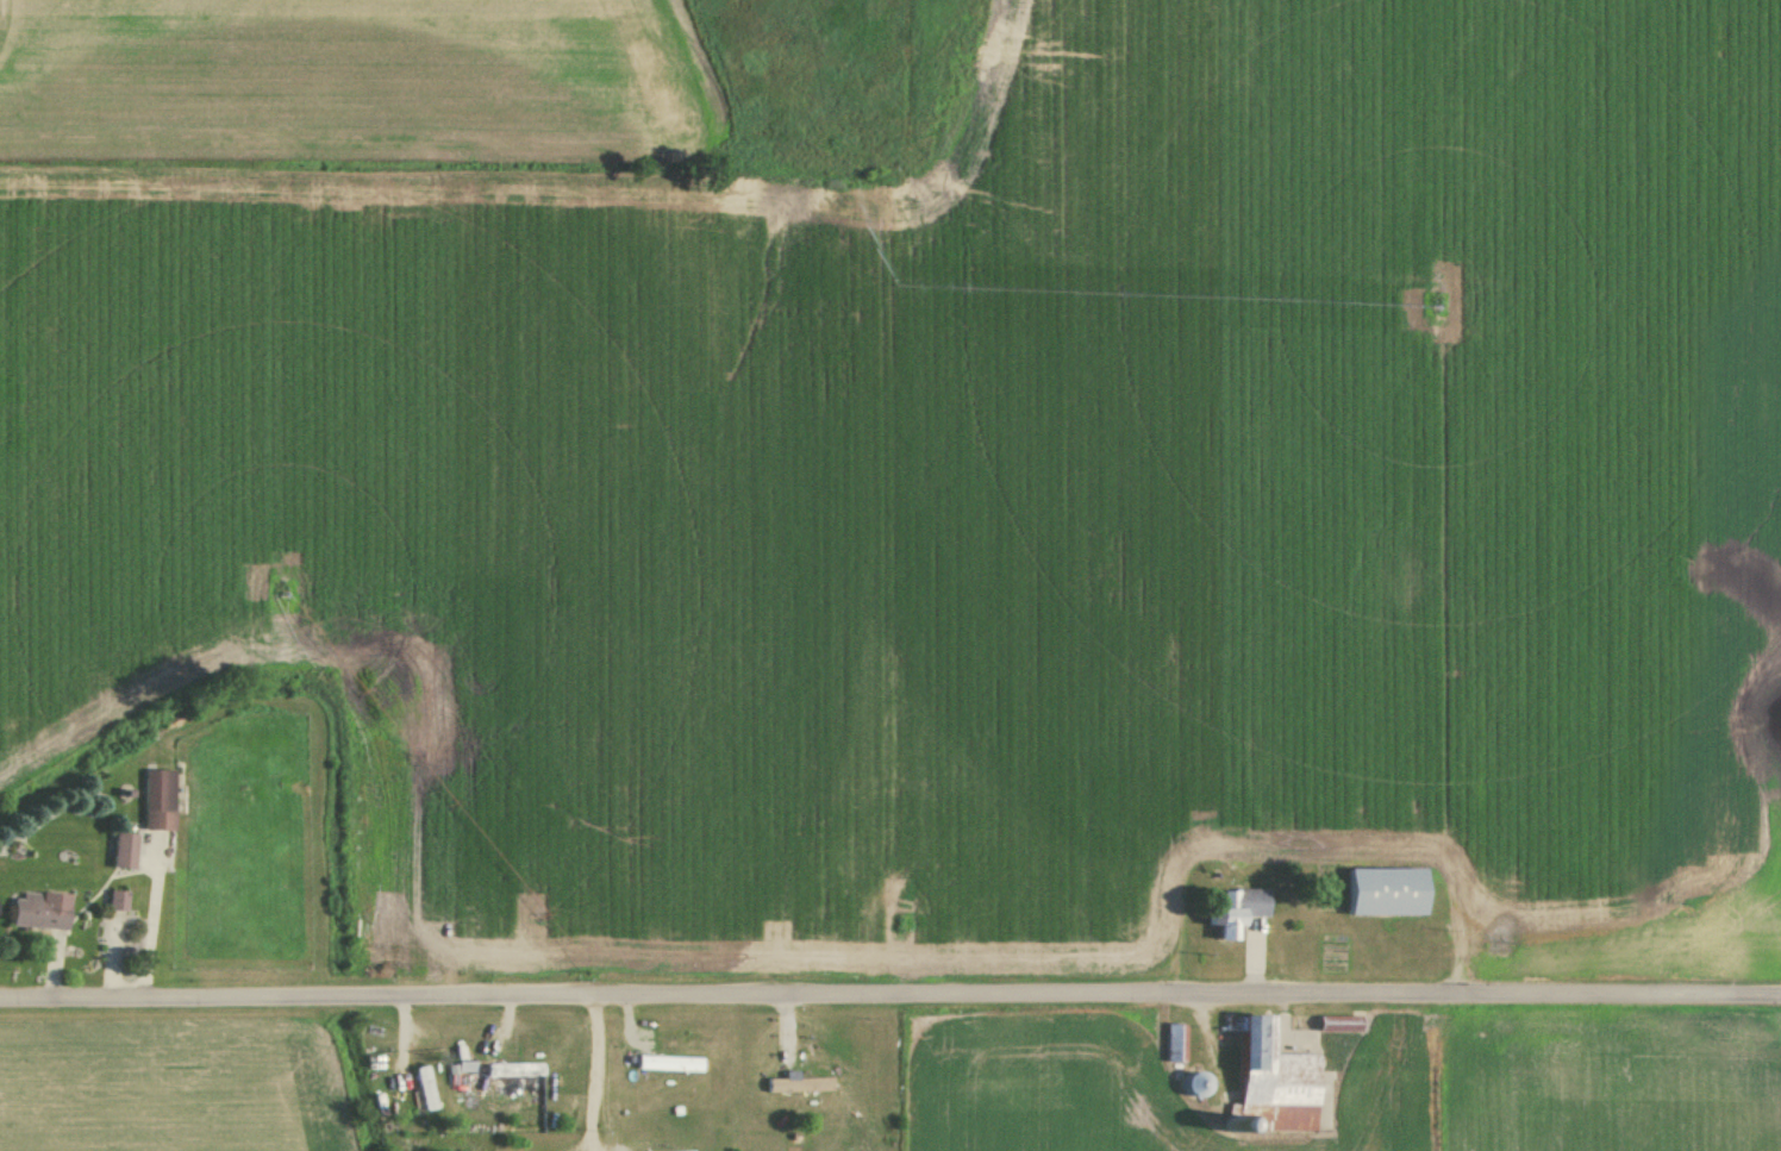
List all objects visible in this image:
building: (157, 800)
building: (121, 851)
building: (1382, 893)
building: (115, 902)
building: (1233, 913)
building: (39, 914)
road: (889, 992)
building: (1174, 1044)
building: (667, 1065)
building: (512, 1070)
road: (592, 1072)
building: (1270, 1084)
building: (1192, 1086)
building: (800, 1087)
building: (424, 1090)

